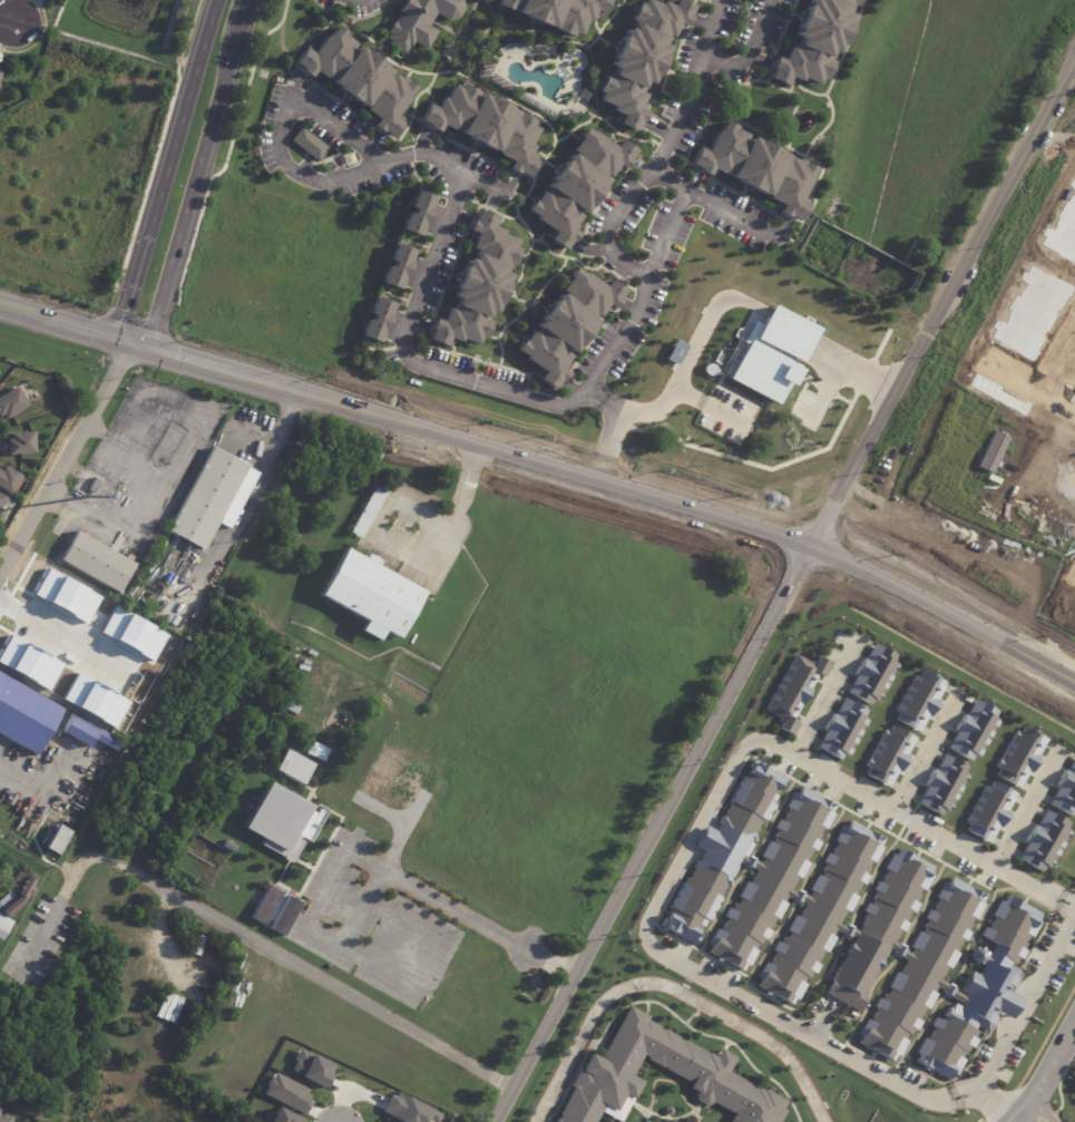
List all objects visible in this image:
road: (250, 11)
building: (555, 12)
road: (8, 17)
building: (417, 19)
building: (812, 39)
road: (750, 50)
building: (638, 58)
road: (202, 60)
building: (356, 77)
building: (483, 127)
building: (307, 144)
road: (659, 152)
building: (753, 166)
road: (485, 183)
building: (576, 186)
road: (197, 187)
road: (724, 208)
building: (418, 212)
road: (674, 214)
road: (147, 231)
road: (436, 242)
building: (395, 266)
building: (476, 282)
road: (25, 312)
building: (375, 319)
building: (564, 323)
road: (89, 332)
traffic signals: (130, 344)
building: (674, 352)
building: (771, 354)
road: (177, 358)
road: (687, 358)
road: (849, 370)
road: (1054, 381)
road: (594, 392)
road: (824, 393)
road: (705, 400)
building: (10, 402)
parking lot: (804, 406)
parking lot: (726, 414)
road: (608, 435)
building: (16, 442)
road: (66, 459)
building: (6, 479)
building: (94, 485)
road: (662, 498)
building: (0, 499)
building: (212, 499)
road: (250, 500)
road: (133, 504)
building: (368, 511)
building: (97, 562)
road: (410, 562)
building: (215, 568)
building: (370, 594)
road: (783, 594)
road: (1055, 626)
building: (870, 674)
building: (792, 691)
road: (821, 699)
building: (918, 700)
building: (25, 716)
building: (841, 728)
building: (974, 730)
building: (84, 733)
building: (316, 751)
road: (922, 753)
building: (889, 755)
building: (1018, 757)
building: (294, 768)
building: (944, 786)
building: (1065, 791)
road: (1023, 809)
building: (994, 813)
building: (283, 823)
building: (51, 839)
building: (1040, 841)
building: (720, 857)
road: (367, 858)
road: (678, 860)
building: (771, 877)
building: (13, 899)
building: (264, 905)
building: (819, 910)
building: (284, 916)
building: (877, 931)
road: (243, 937)
building: (977, 955)
building: (920, 967)
building: (1, 987)
building: (984, 988)
road: (668, 989)
road: (1025, 999)
building: (307, 1067)
building: (665, 1081)
road: (1044, 1082)
building: (284, 1092)
road: (1042, 1101)
building: (408, 1110)
building: (278, 1116)
building: (6, 1118)

